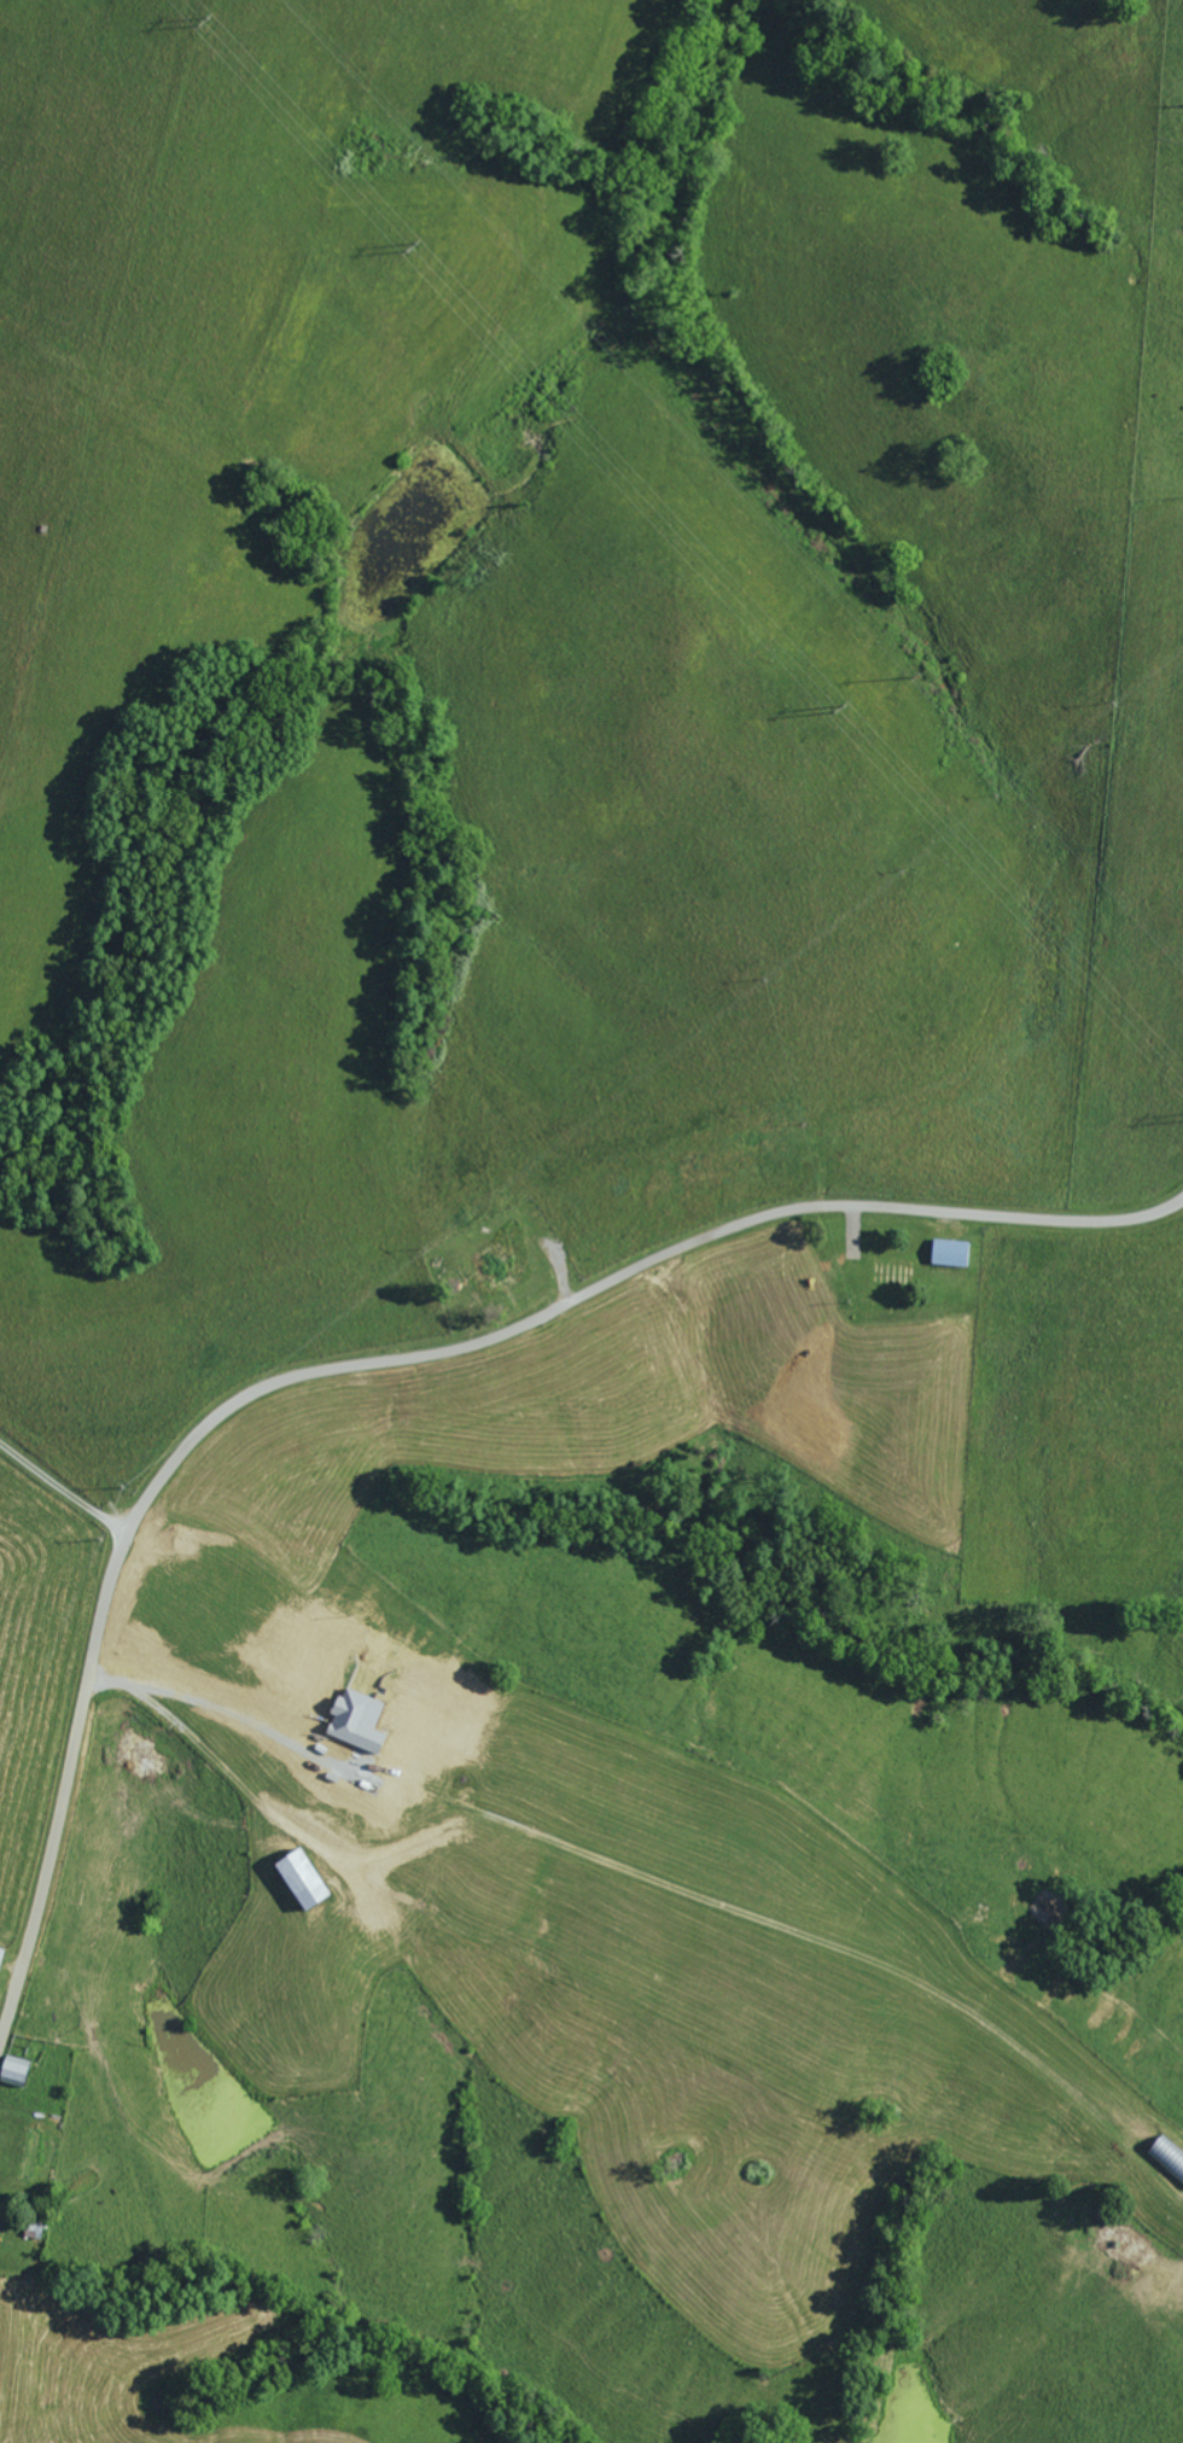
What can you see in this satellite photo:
road: (129, 456)
building: (948, 1252)
road: (134, 1293)
road: (402, 1351)
road: (54, 1488)
road: (386, 1732)
building: (298, 1876)
building: (0, 1945)
building: (13, 2069)
building: (0, 2221)

